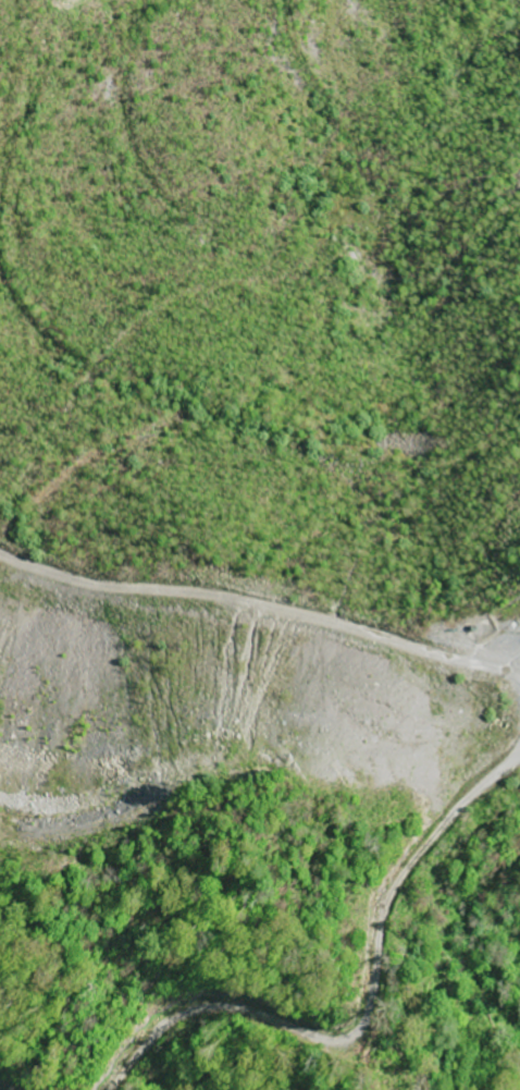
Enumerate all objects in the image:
road: (258, 609)

